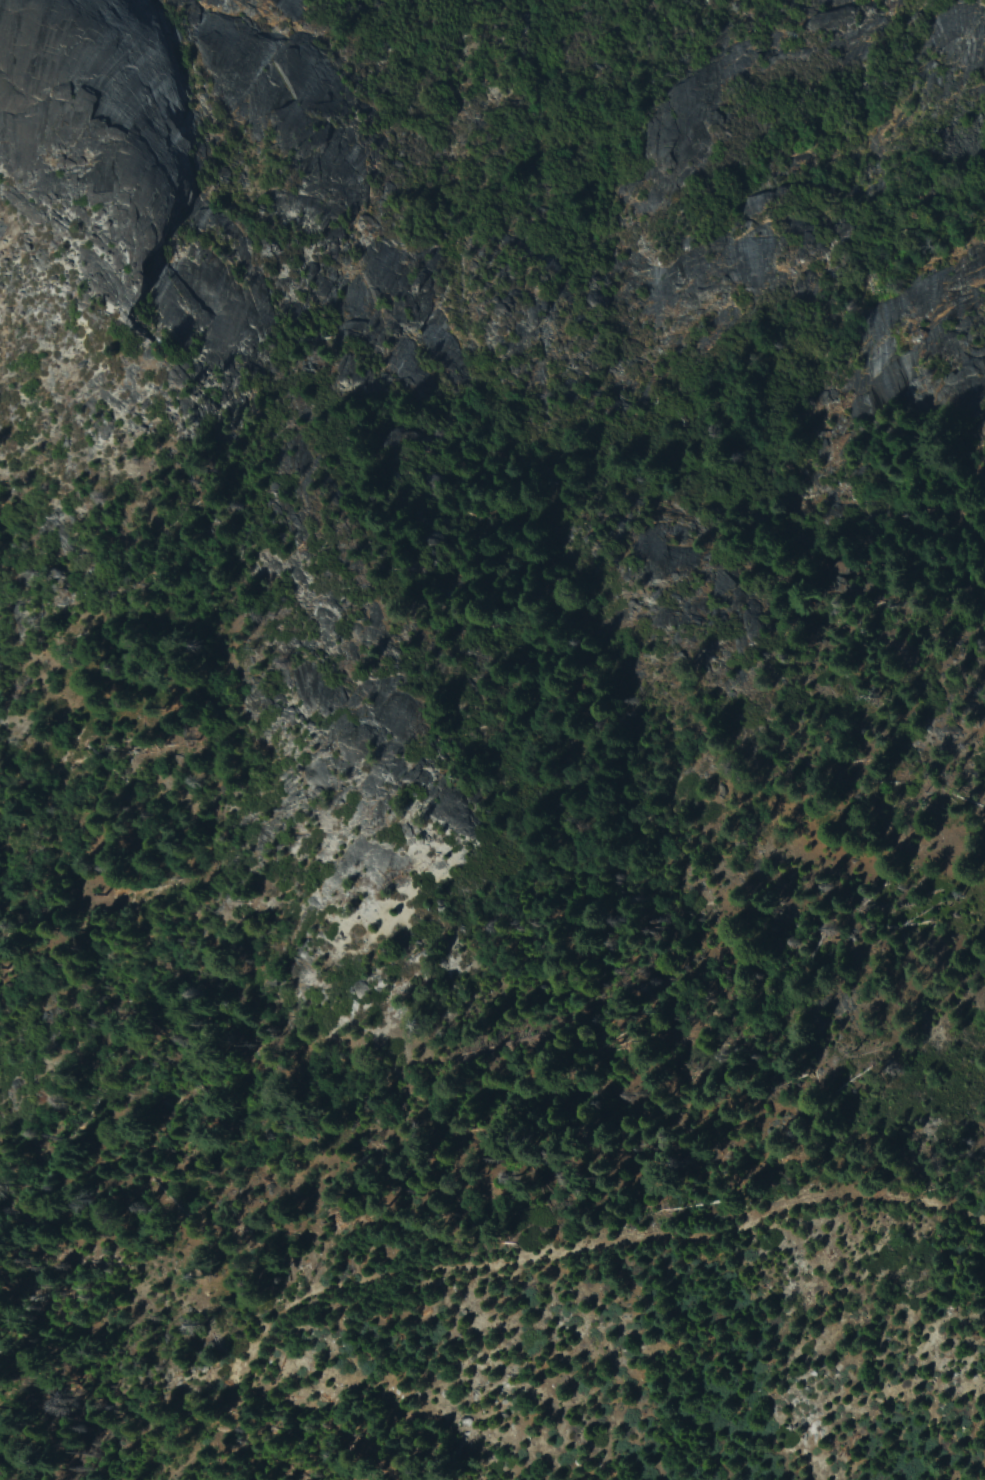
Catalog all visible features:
road: (530, 1258)

